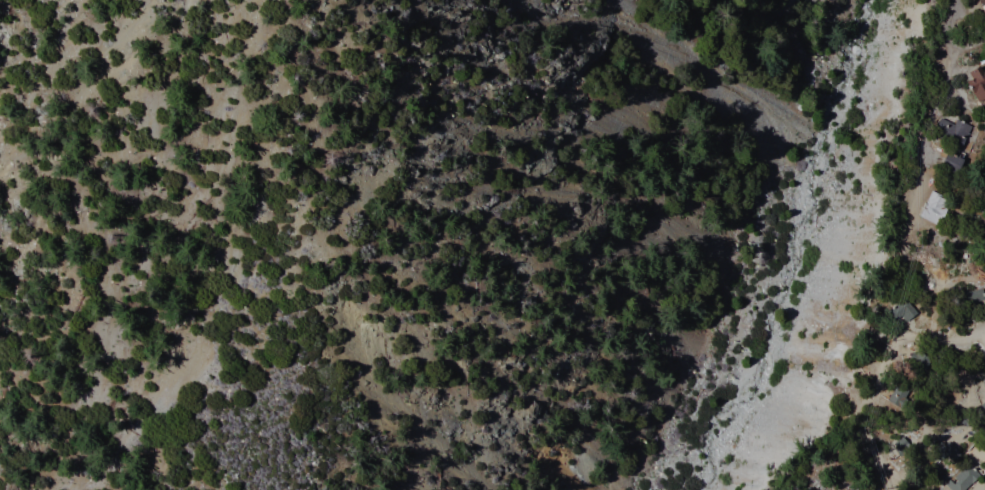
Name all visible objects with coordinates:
road: (936, 68)
building: (975, 86)
building: (951, 133)
building: (948, 161)
building: (935, 207)
building: (972, 299)
building: (901, 311)
building: (918, 361)
building: (896, 396)
road: (971, 396)
building: (981, 410)
building: (947, 452)
building: (965, 478)

